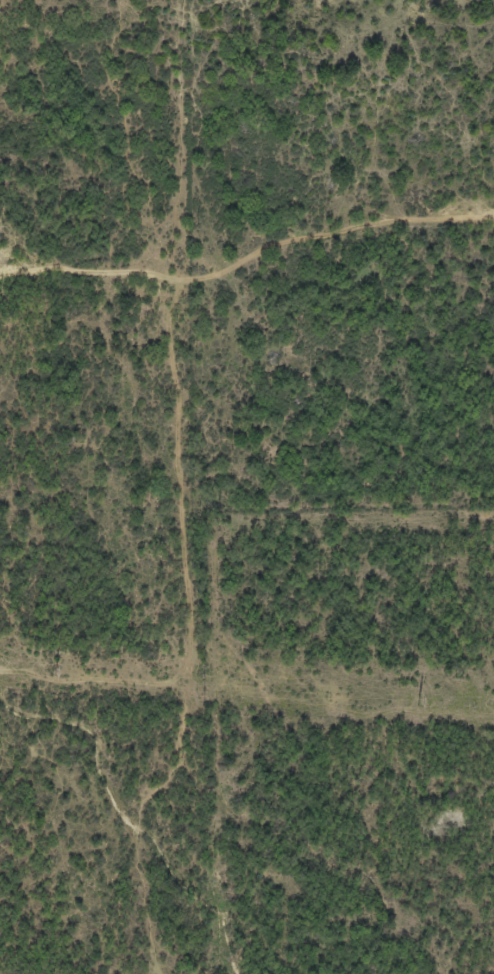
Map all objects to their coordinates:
power tower: (55, 672)
power tower: (418, 701)

